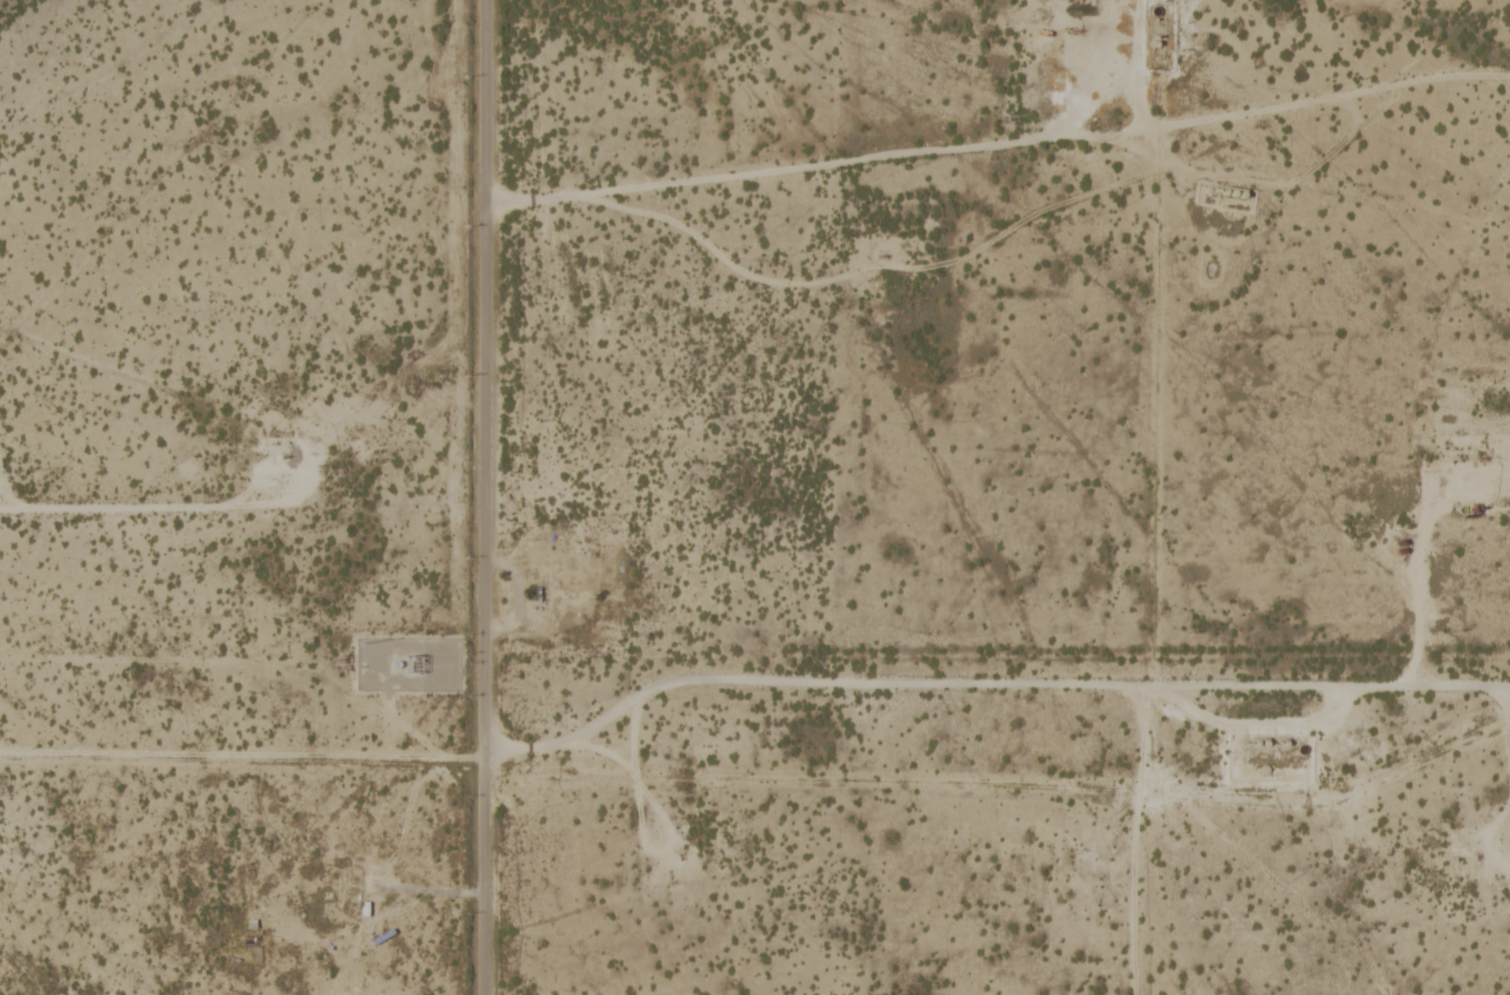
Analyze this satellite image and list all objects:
road: (1263, 104)
road: (813, 169)
road: (486, 497)
road: (165, 509)
road: (1420, 538)
road: (1039, 683)
road: (1259, 684)
road: (1507, 712)
road: (633, 736)
road: (568, 744)
road: (242, 756)
road: (637, 804)
road: (408, 819)
road: (1132, 839)
road: (24, 968)

